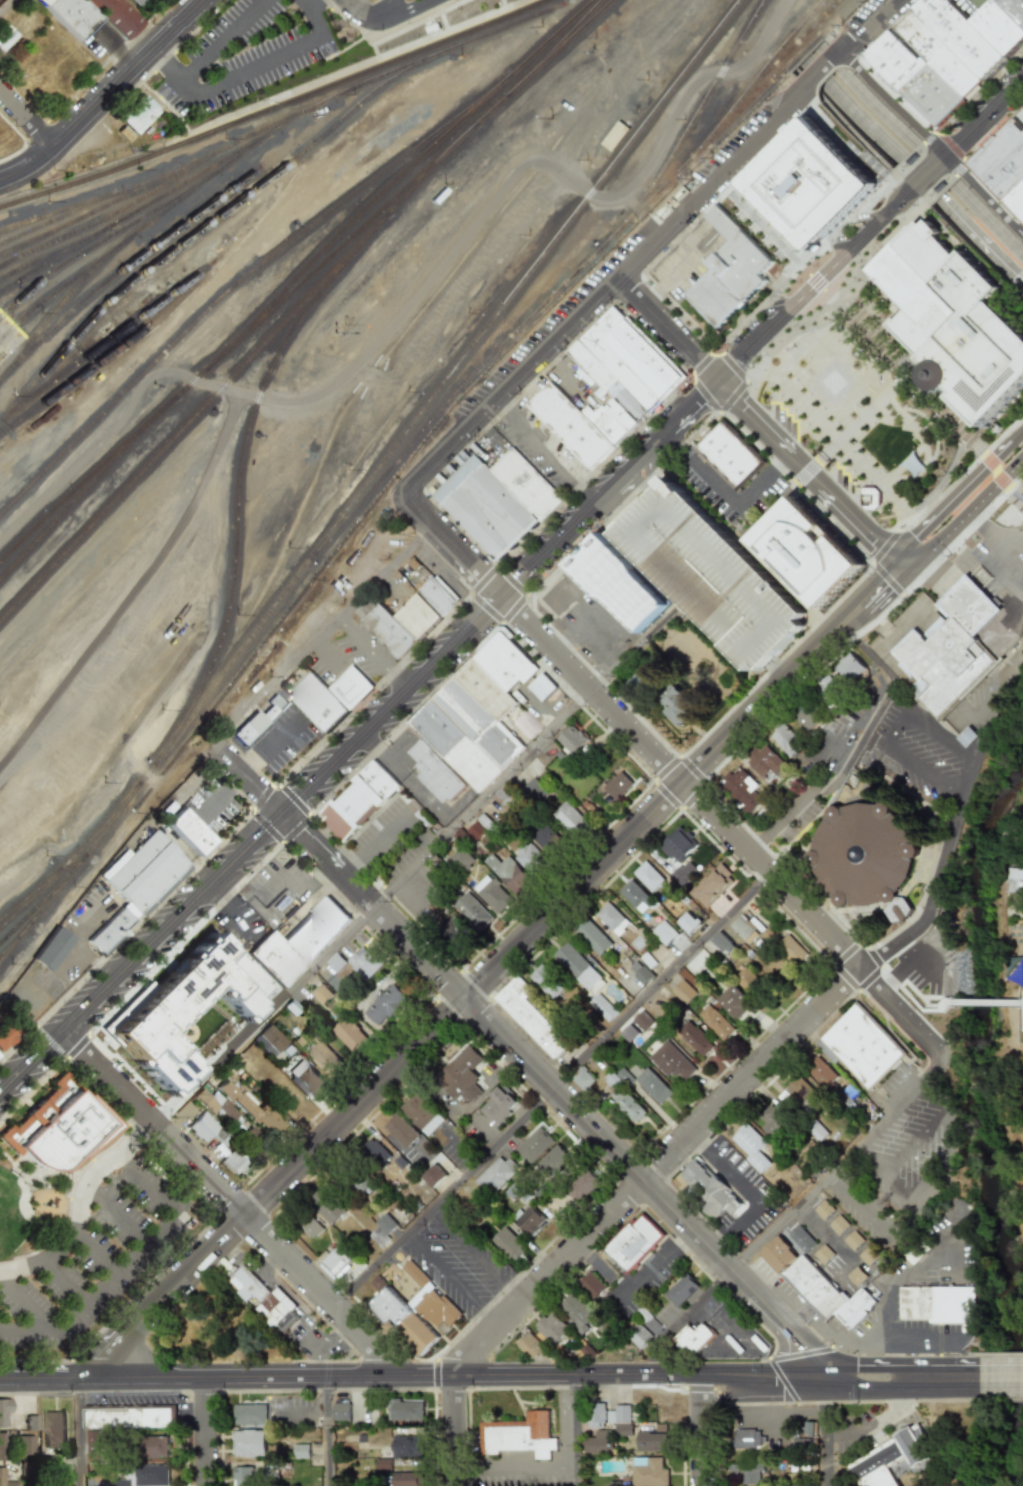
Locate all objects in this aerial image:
building: (137, 2)
road: (504, 2)
road: (8, 8)
road: (405, 11)
railway: (814, 12)
building: (70, 14)
building: (115, 16)
road: (372, 17)
road: (396, 34)
railway: (793, 46)
road: (375, 49)
railway: (552, 52)
road: (206, 53)
road: (265, 63)
building: (895, 66)
railway: (760, 76)
building: (954, 76)
road: (105, 96)
building: (931, 99)
road: (894, 102)
railway: (274, 107)
road: (877, 109)
building: (137, 114)
road: (28, 117)
railway: (695, 118)
road: (864, 123)
road: (583, 134)
road: (864, 139)
railway: (170, 142)
railway: (254, 146)
building: (1007, 167)
building: (803, 174)
railway: (157, 179)
railway: (395, 180)
road: (982, 193)
railway: (75, 207)
railway: (138, 210)
railway: (115, 211)
road: (988, 220)
railway: (48, 223)
railway: (12, 228)
road: (761, 228)
railway: (201, 229)
road: (869, 229)
railway: (105, 240)
road: (650, 243)
road: (981, 243)
railway: (41, 258)
railway: (177, 262)
railway: (124, 265)
railway: (581, 267)
road: (803, 271)
building: (732, 272)
railway: (246, 276)
railway: (306, 280)
road: (814, 281)
railway: (66, 284)
road: (761, 300)
building: (954, 319)
road: (666, 329)
railway: (108, 342)
traffic signals: (737, 360)
traffic signals: (697, 361)
road: (896, 363)
road: (273, 364)
railway: (239, 371)
railway: (75, 380)
building: (608, 388)
traffic signals: (694, 403)
traffic signals: (743, 409)
road: (117, 415)
road: (847, 431)
road: (1015, 435)
road: (544, 453)
road: (12, 454)
building: (731, 456)
road: (993, 471)
road: (806, 473)
railway: (369, 481)
railway: (239, 491)
road: (1010, 491)
road: (724, 496)
building: (868, 498)
road: (952, 498)
road: (1018, 499)
building: (497, 500)
railway: (75, 501)
road: (966, 513)
road: (986, 530)
traffic signals: (912, 538)
traffic signals: (875, 540)
building: (813, 552)
road: (931, 568)
road: (383, 570)
road: (1001, 570)
traffic signals: (936, 572)
building: (712, 574)
parking garage: (712, 574)
traffic signals: (879, 582)
building: (618, 583)
flagpole: (850, 585)
building: (438, 596)
building: (418, 617)
road: (1010, 629)
building: (390, 631)
road: (569, 631)
road: (543, 639)
building: (952, 649)
road: (372, 654)
building: (507, 662)
building: (850, 668)
road: (794, 670)
road: (274, 681)
building: (640, 681)
building: (541, 687)
building: (827, 689)
building: (329, 697)
road: (993, 704)
building: (680, 707)
building: (805, 716)
building: (258, 719)
building: (525, 725)
road: (894, 737)
building: (967, 737)
building: (572, 739)
building: (786, 740)
road: (358, 741)
road: (271, 747)
road: (855, 748)
road: (836, 749)
building: (764, 760)
road: (249, 780)
building: (618, 786)
building: (534, 789)
building: (742, 789)
road: (223, 795)
building: (358, 801)
building: (569, 818)
building: (474, 830)
building: (189, 831)
building: (545, 838)
road: (374, 845)
building: (678, 845)
railway: (75, 856)
building: (528, 858)
building: (866, 859)
building: (458, 860)
building: (507, 873)
building: (647, 876)
building: (1015, 880)
building: (137, 884)
building: (712, 886)
building: (491, 894)
building: (635, 895)
railway: (44, 900)
railway: (24, 907)
road: (374, 907)
road: (232, 911)
building: (471, 912)
road: (811, 916)
road: (87, 918)
building: (611, 918)
building: (688, 922)
building: (742, 929)
building: (455, 932)
building: (592, 937)
building: (668, 937)
railway: (15, 942)
building: (298, 942)
building: (720, 943)
building: (52, 948)
building: (790, 951)
road: (66, 954)
building: (365, 961)
building: (578, 967)
building: (640, 972)
road: (659, 978)
building: (746, 980)
building: (546, 981)
building: (682, 991)
building: (318, 996)
road: (983, 999)
road: (1019, 1000)
building: (733, 1001)
building: (385, 1005)
building: (602, 1007)
building: (185, 1011)
building: (530, 1018)
building: (715, 1022)
road: (938, 1022)
building: (635, 1026)
building: (348, 1034)
building: (5, 1036)
building: (273, 1038)
building: (695, 1039)
road: (508, 1044)
building: (859, 1047)
building: (324, 1059)
road: (767, 1059)
building: (671, 1062)
building: (820, 1073)
building: (463, 1075)
building: (303, 1078)
building: (581, 1078)
road: (381, 1079)
building: (652, 1085)
road: (920, 1087)
building: (798, 1089)
building: (498, 1105)
building: (627, 1105)
building: (218, 1106)
building: (254, 1110)
building: (422, 1115)
building: (771, 1121)
river: (983, 1122)
building: (64, 1126)
building: (205, 1127)
building: (816, 1131)
building: (398, 1133)
building: (747, 1142)
road: (916, 1144)
building: (534, 1145)
building: (377, 1153)
building: (553, 1160)
building: (234, 1163)
road: (947, 1165)
building: (496, 1174)
building: (434, 1176)
road: (887, 1179)
road: (147, 1181)
building: (354, 1182)
building: (584, 1182)
building: (712, 1189)
road: (746, 1192)
road: (811, 1195)
road: (442, 1196)
road: (233, 1200)
road: (81, 1205)
building: (327, 1206)
road: (862, 1207)
building: (823, 1209)
road: (116, 1216)
building: (528, 1220)
building: (308, 1225)
building: (838, 1225)
road: (158, 1228)
building: (383, 1230)
road: (825, 1234)
building: (800, 1238)
building: (853, 1240)
building: (633, 1242)
building: (508, 1243)
building: (916, 1252)
building: (777, 1254)
building: (823, 1254)
road: (95, 1255)
road: (475, 1255)
building: (867, 1256)
building: (337, 1262)
road: (650, 1264)
building: (856, 1275)
road: (450, 1279)
road: (903, 1279)
road: (65, 1284)
building: (591, 1284)
building: (681, 1289)
building: (824, 1295)
building: (265, 1299)
road: (30, 1302)
building: (940, 1302)
building: (573, 1308)
building: (417, 1311)
road: (81, 1312)
road: (684, 1319)
road: (783, 1322)
building: (550, 1327)
road: (913, 1334)
building: (639, 1337)
building: (693, 1338)
building: (529, 1347)
traffic signals: (808, 1347)
road: (473, 1349)
road: (843, 1355)
road: (515, 1375)
road: (663, 1375)
road: (227, 1377)
traffic signals: (777, 1378)
road: (787, 1378)
road: (903, 1378)
road: (1002, 1378)
traffic signals: (859, 1379)
road: (723, 1402)
building: (405, 1409)
traffic signals: (826, 1409)
building: (341, 1411)
building: (4, 1412)
building: (251, 1414)
building: (596, 1415)
building: (620, 1419)
building: (124, 1421)
building: (54, 1429)
road: (456, 1430)
road: (577, 1430)
road: (703, 1430)
road: (206, 1431)
road: (328, 1431)
road: (81, 1432)
road: (826, 1432)
building: (518, 1434)
building: (653, 1438)
building: (746, 1438)
building: (596, 1442)
building: (249, 1443)
building: (24, 1444)
building: (155, 1445)
building: (407, 1445)
building: (914, 1445)
building: (1, 1446)
building: (96, 1446)
building: (299, 1451)
building: (382, 1464)
park: (1014, 1464)
building: (877, 1465)
building: (898, 1466)
road: (517, 1470)
building: (649, 1472)
building: (749, 1473)
building: (2, 1475)
building: (146, 1475)
building: (244, 1476)
building: (406, 1478)

